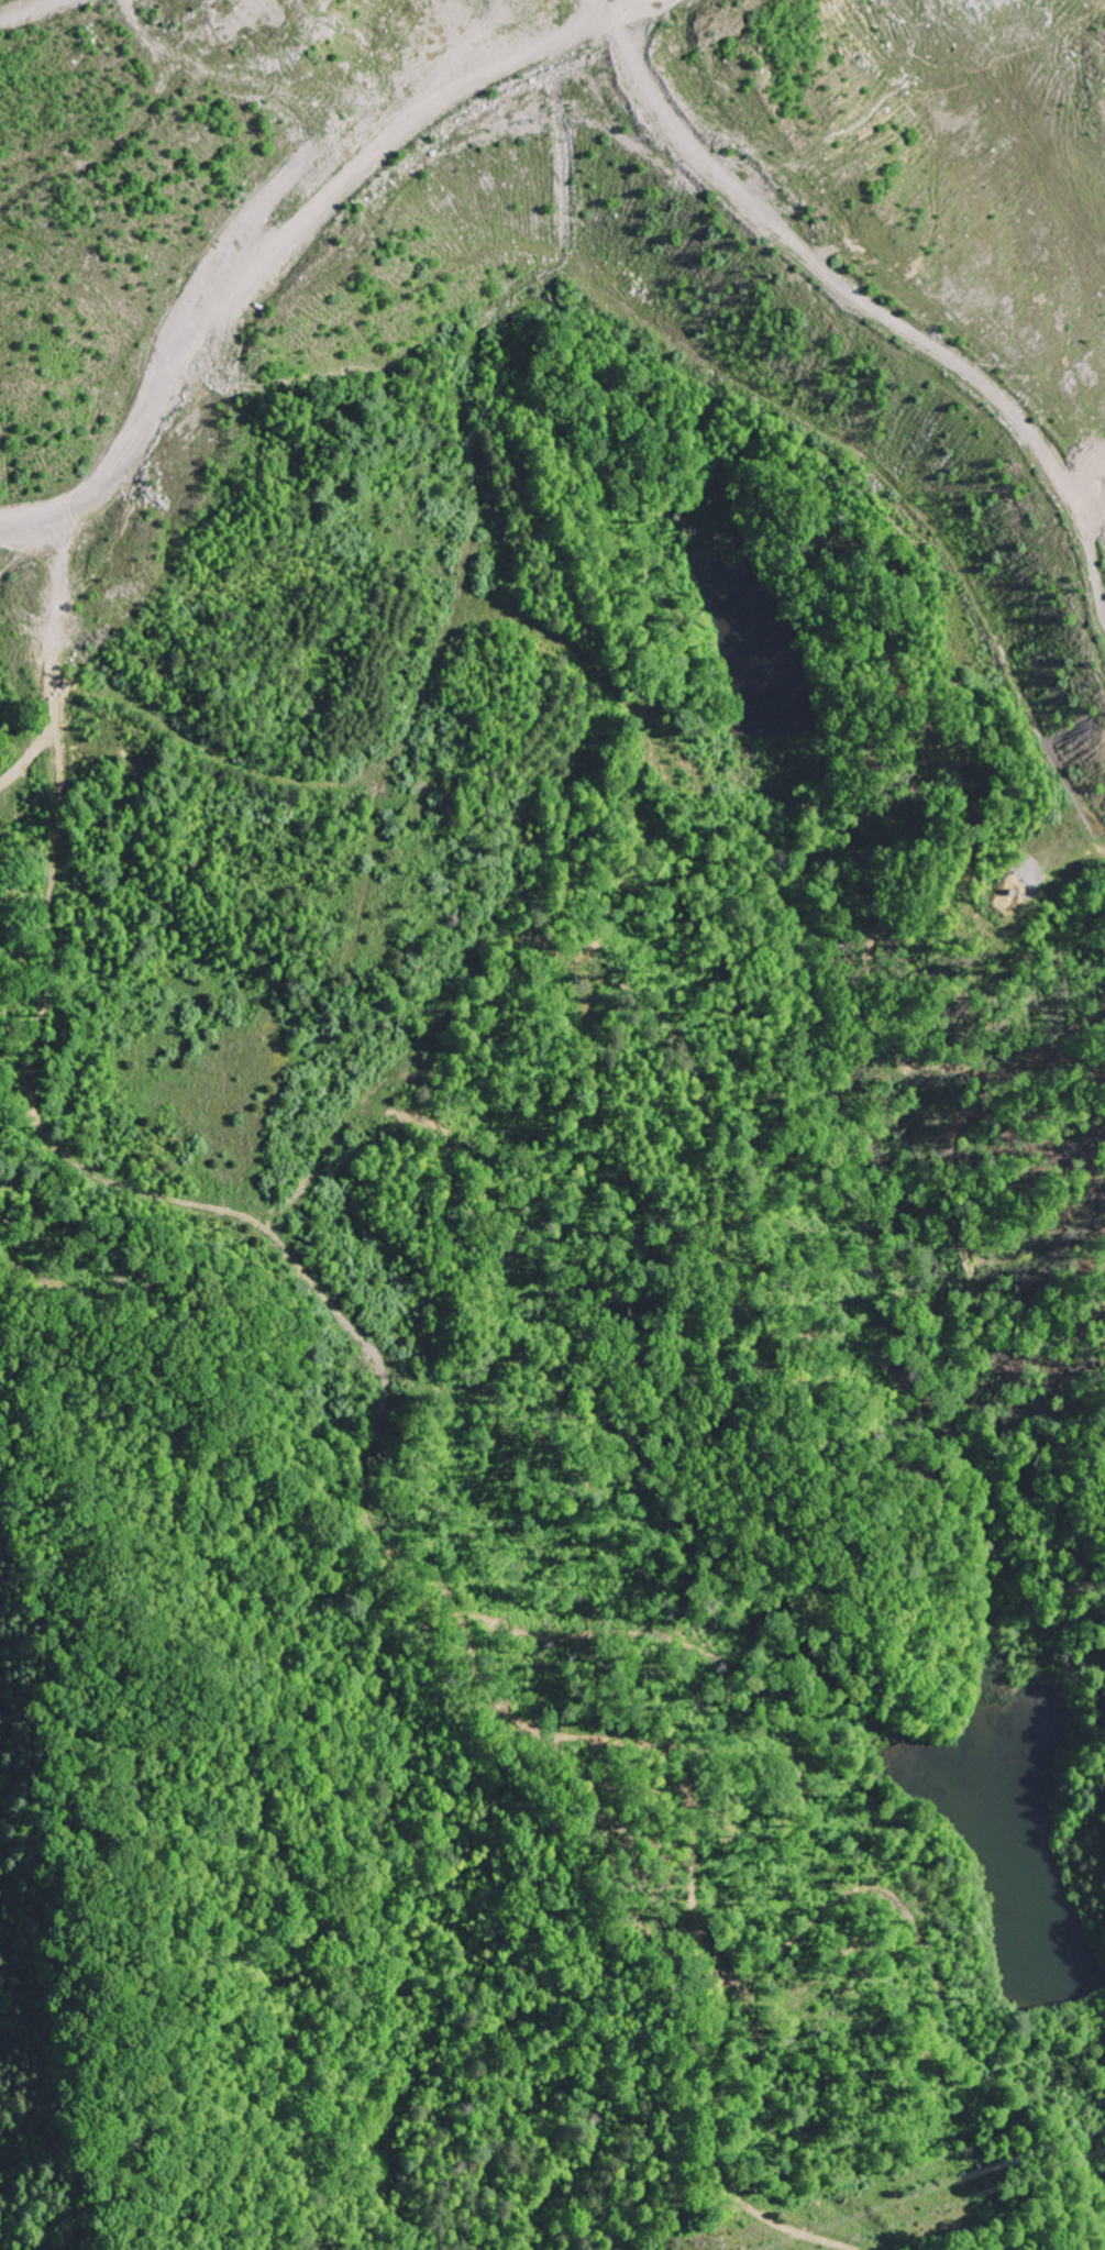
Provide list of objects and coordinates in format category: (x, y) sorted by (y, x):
road: (257, 218)
road: (426, 1571)

